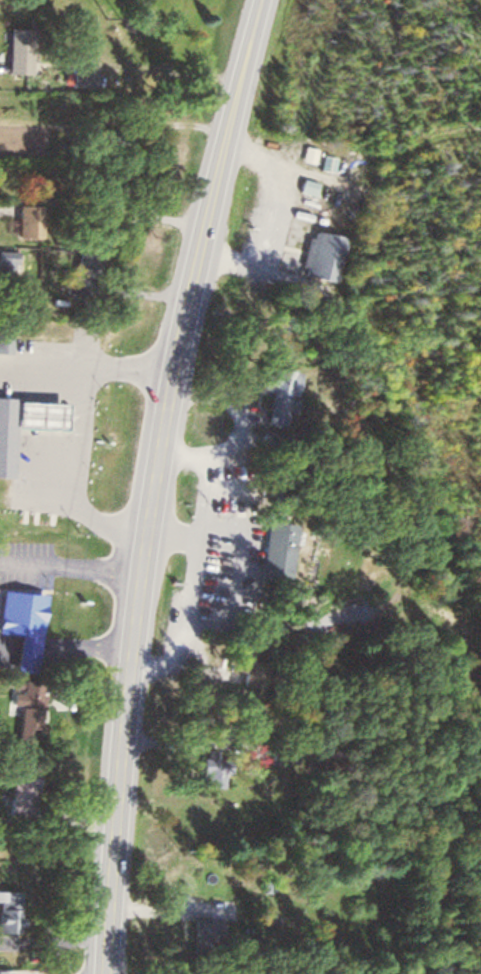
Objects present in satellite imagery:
building: (24, 2)
building: (84, 76)
building: (324, 218)
building: (26, 220)
building: (319, 255)
building: (7, 259)
building: (81, 273)
building: (5, 340)
building: (277, 392)
building: (36, 414)
building: (6, 432)
road: (153, 482)
building: (273, 547)
building: (19, 627)
building: (1, 657)
building: (236, 658)
building: (26, 715)
building: (279, 753)
building: (21, 783)
building: (6, 911)
building: (205, 932)
building: (3, 971)
building: (337, 972)

